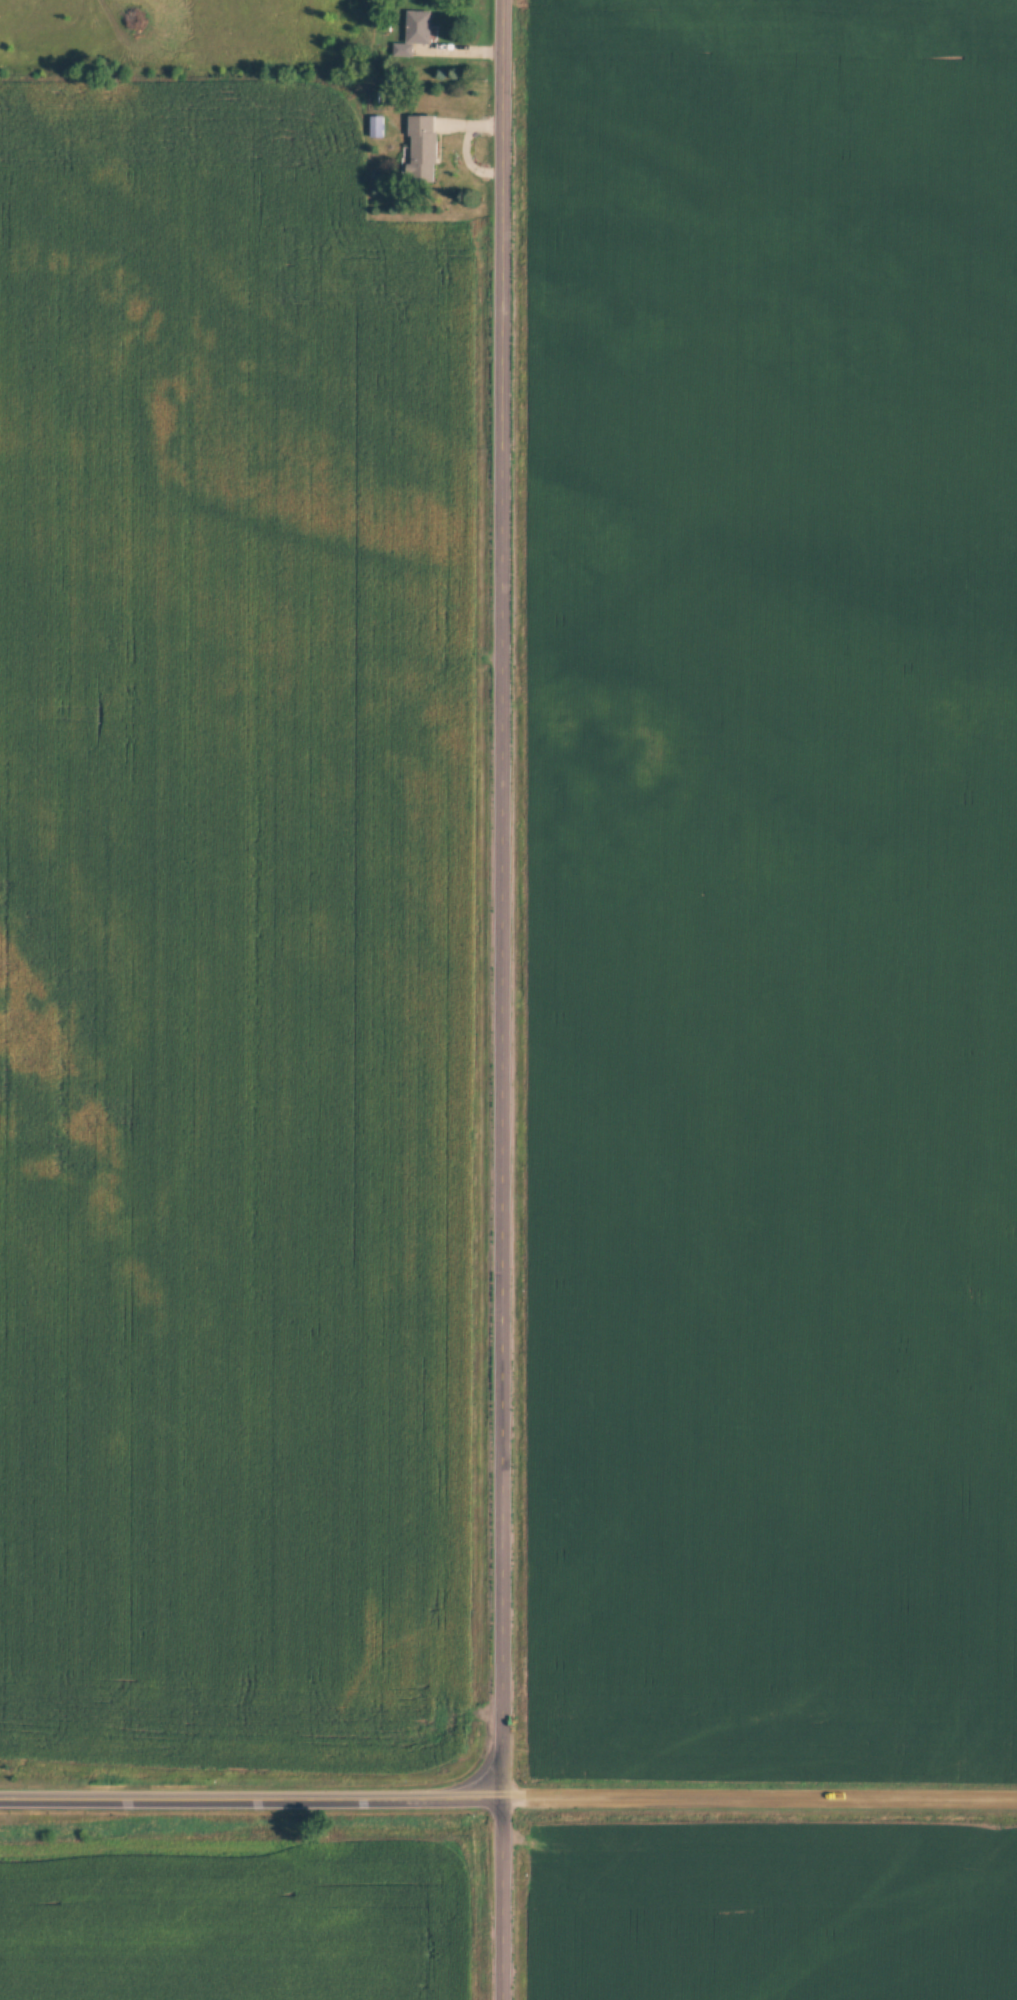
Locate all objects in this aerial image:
building: (414, 32)
road: (500, 51)
building: (376, 126)
building: (421, 146)
road: (502, 156)
crop: (230, 928)
road: (501, 1103)
road: (249, 1795)
road: (758, 1798)
crop: (236, 1921)

